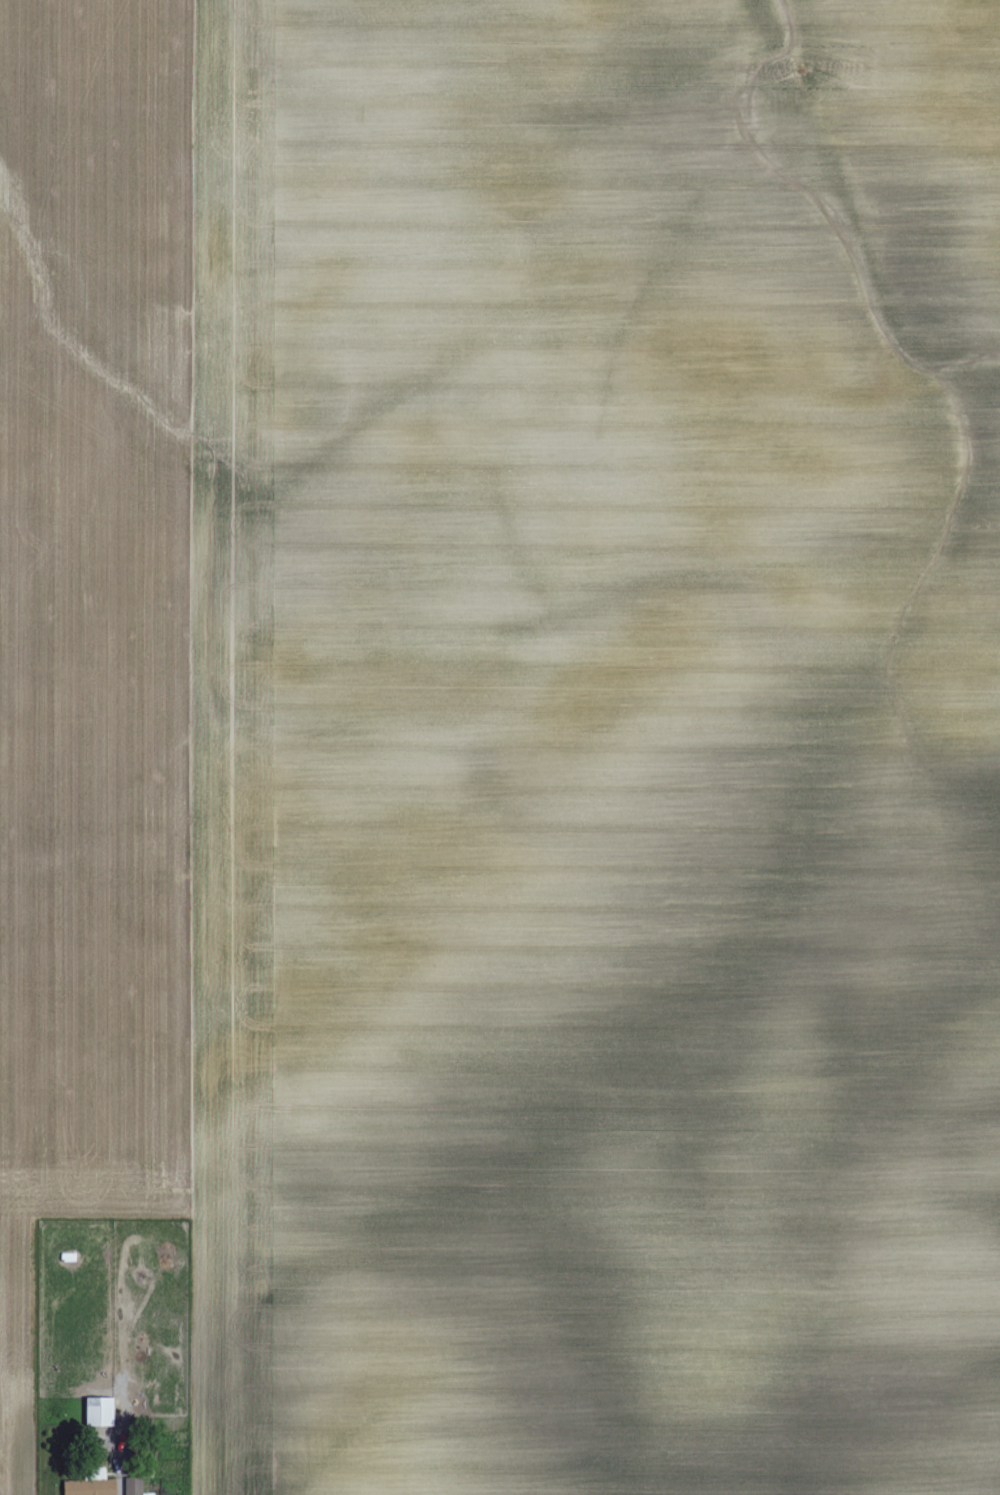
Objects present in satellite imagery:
building: (97, 1412)
building: (89, 1485)
building: (131, 1486)

